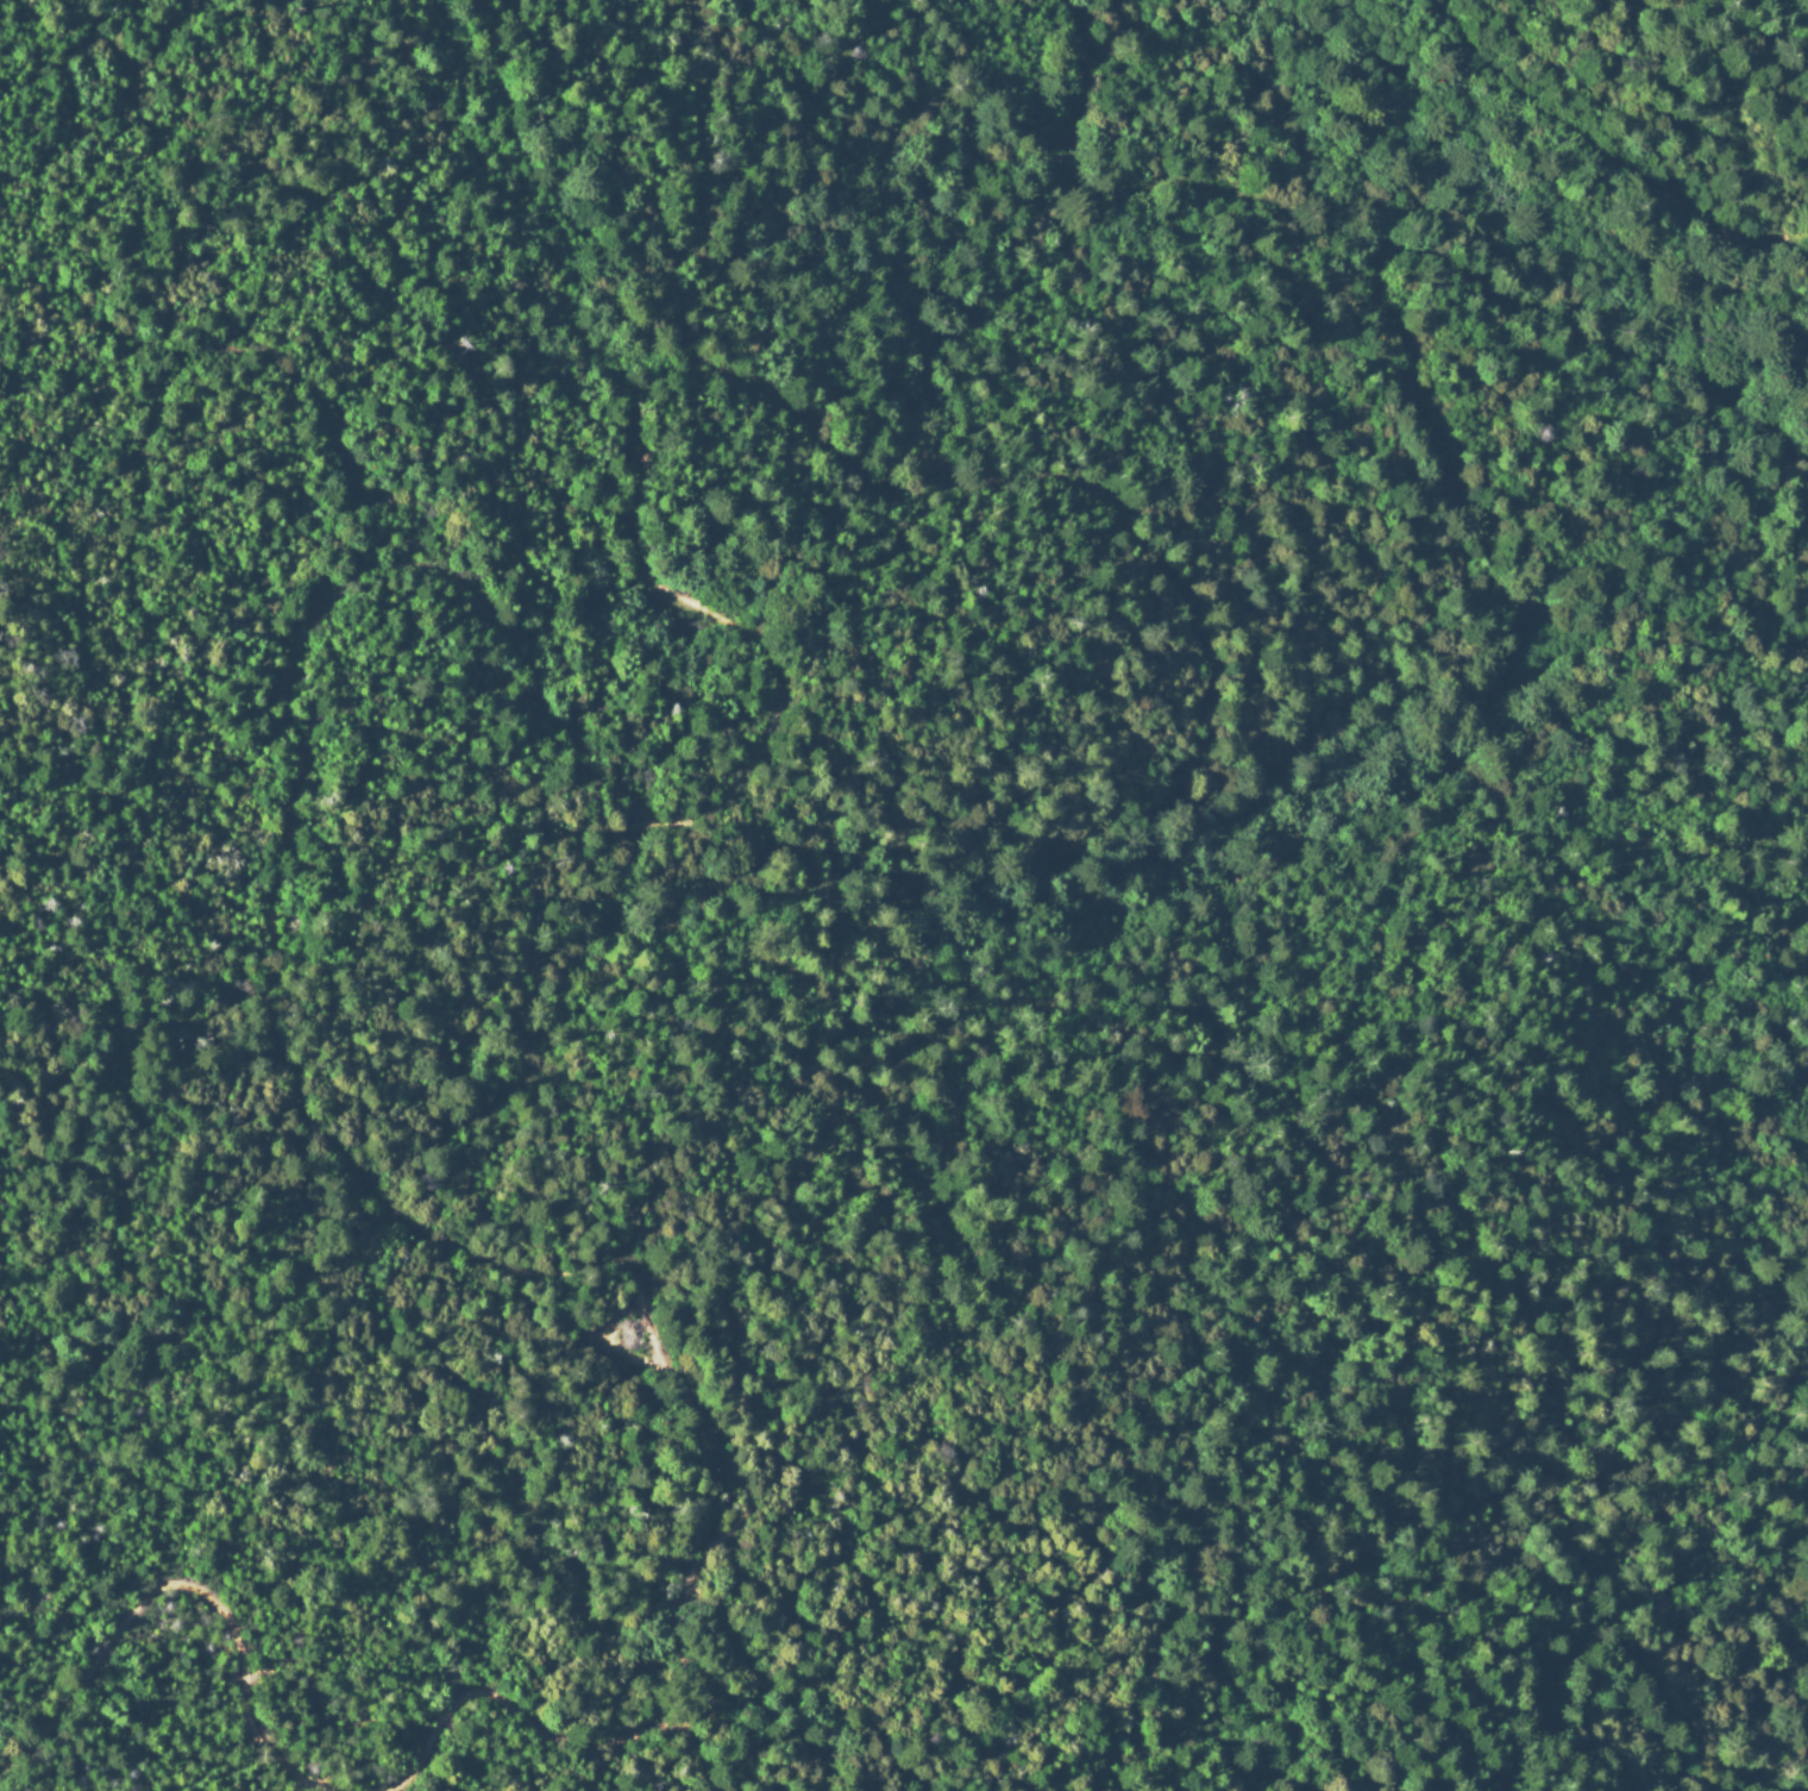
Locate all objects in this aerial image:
road: (1618, 150)
road: (1423, 1589)

